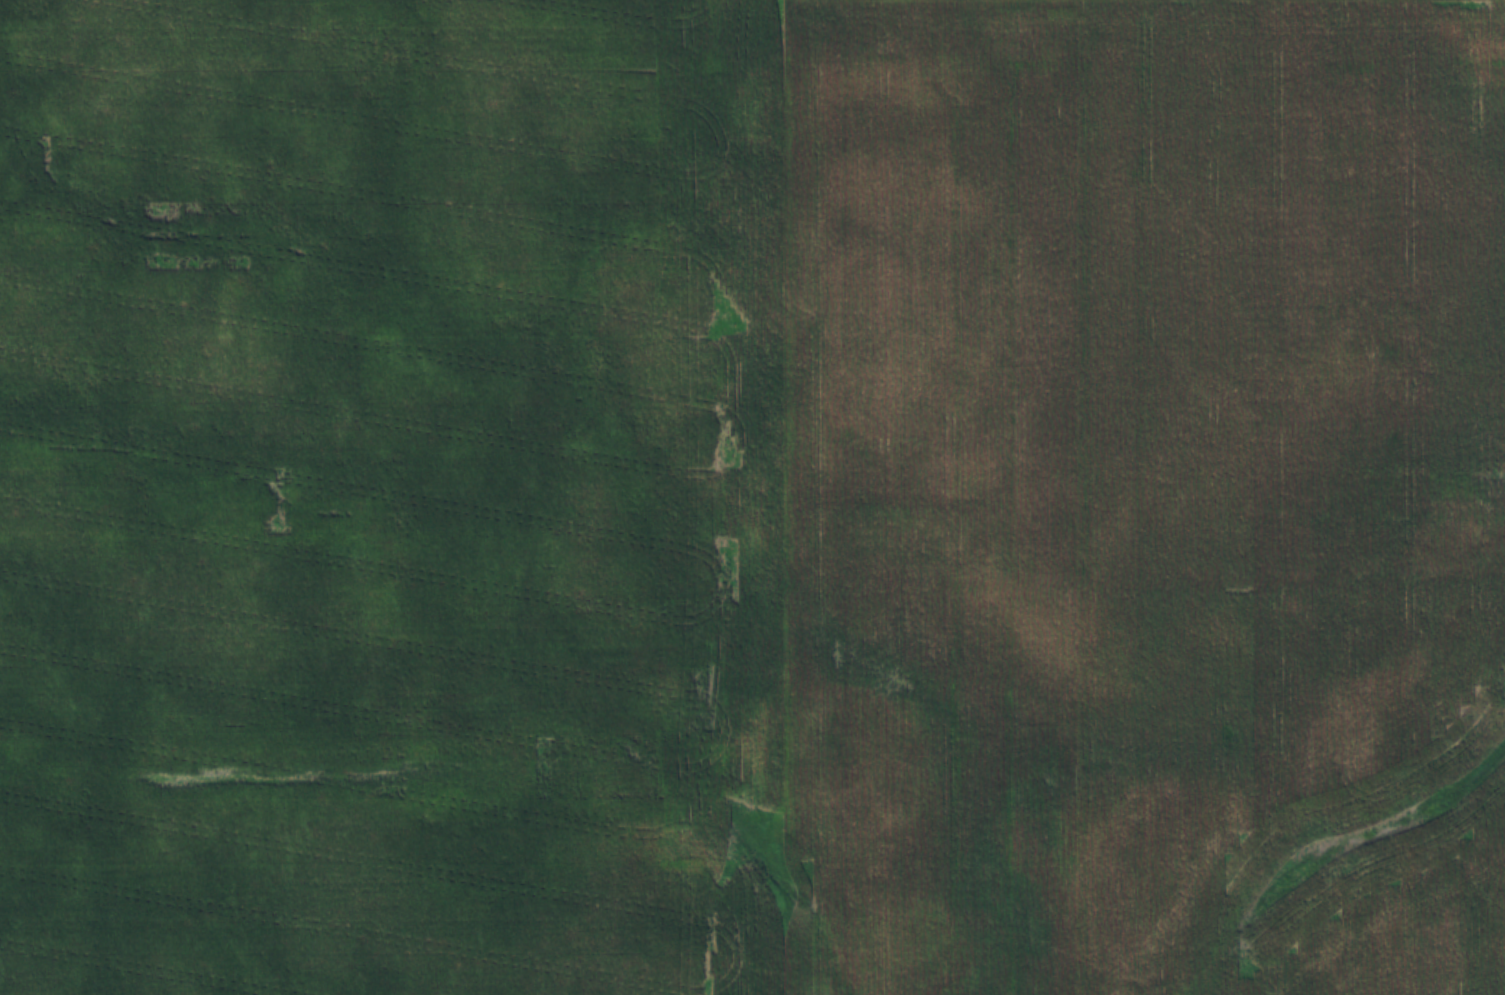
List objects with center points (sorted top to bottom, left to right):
road: (1165, 0)

